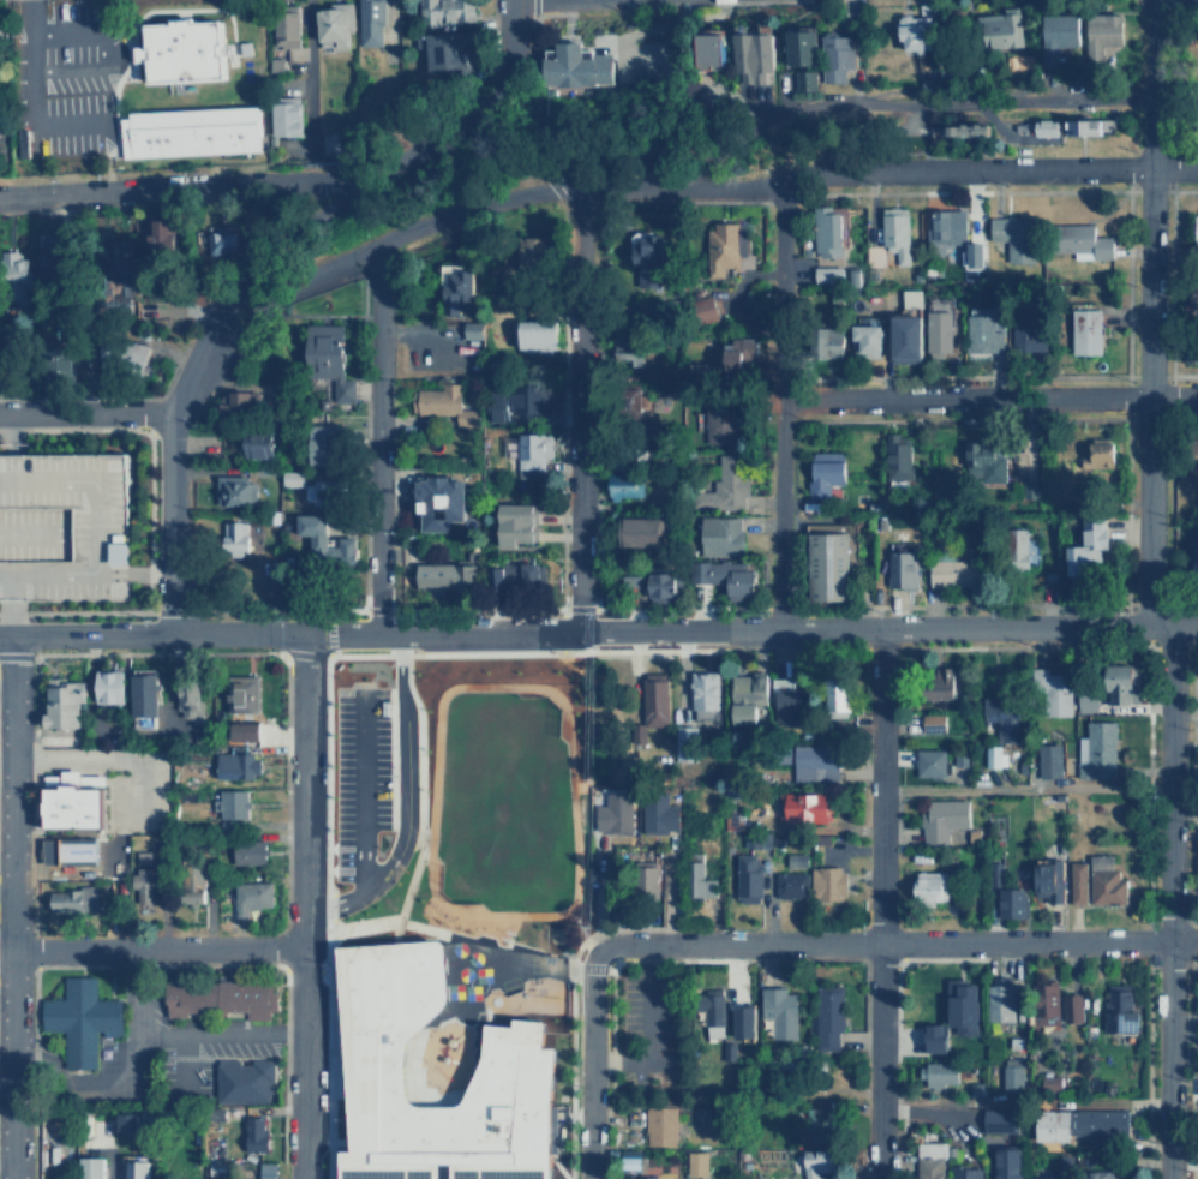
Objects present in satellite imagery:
building: (445, 11)
building: (0, 17)
building: (371, 23)
building: (336, 26)
building: (287, 28)
building: (1001, 28)
road: (64, 30)
road: (534, 31)
building: (916, 31)
building: (1101, 32)
building: (1058, 35)
building: (801, 46)
building: (713, 47)
building: (182, 49)
building: (443, 49)
building: (754, 55)
building: (837, 55)
building: (576, 66)
road: (64, 70)
building: (805, 79)
road: (976, 98)
road: (23, 101)
building: (286, 115)
building: (1085, 125)
building: (1049, 126)
building: (969, 128)
building: (192, 131)
building: (340, 143)
park: (540, 163)
road: (544, 175)
road: (173, 188)
road: (685, 188)
building: (947, 227)
building: (1196, 227)
building: (897, 231)
building: (828, 232)
building: (163, 234)
building: (1014, 235)
building: (1085, 241)
building: (223, 243)
building: (729, 247)
building: (532, 251)
building: (975, 253)
building: (54, 256)
building: (649, 261)
road: (256, 263)
building: (16, 270)
building: (827, 274)
building: (460, 292)
building: (1194, 292)
building: (911, 298)
building: (708, 307)
building: (984, 329)
building: (472, 330)
building: (1086, 330)
building: (939, 331)
building: (1028, 331)
building: (538, 335)
building: (868, 337)
building: (908, 337)
building: (832, 342)
building: (629, 349)
building: (124, 354)
building: (741, 354)
building: (329, 358)
building: (61, 365)
road: (987, 397)
building: (239, 401)
building: (521, 402)
building: (443, 403)
road: (777, 408)
road: (575, 411)
road: (84, 412)
building: (720, 420)
road: (0, 430)
road: (375, 438)
building: (321, 443)
building: (251, 444)
building: (533, 451)
building: (1100, 453)
building: (898, 456)
building: (984, 462)
building: (825, 472)
building: (292, 477)
building: (624, 486)
building: (724, 486)
building: (235, 491)
building: (323, 491)
building: (439, 501)
building: (62, 523)
parking lot: (62, 523)
building: (516, 523)
building: (641, 531)
building: (720, 535)
building: (235, 538)
building: (324, 538)
building: (1090, 545)
building: (1023, 547)
building: (1194, 556)
building: (829, 565)
building: (903, 569)
building: (534, 571)
building: (956, 571)
road: (146, 573)
building: (447, 575)
building: (507, 575)
building: (726, 576)
building: (634, 580)
building: (663, 585)
road: (1145, 592)
road: (8, 617)
road: (599, 633)
building: (946, 683)
building: (1122, 683)
building: (104, 689)
building: (1053, 690)
building: (837, 693)
building: (703, 694)
building: (747, 695)
building: (238, 696)
building: (139, 698)
building: (655, 698)
building: (1086, 701)
building: (59, 704)
building: (787, 706)
building: (186, 713)
building: (1002, 718)
building: (934, 722)
building: (245, 731)
building: (683, 746)
building: (1097, 749)
building: (995, 755)
building: (1049, 760)
building: (814, 762)
building: (932, 762)
building: (234, 766)
road: (403, 771)
road: (1023, 786)
road: (360, 790)
building: (77, 801)
park: (502, 801)
building: (808, 806)
building: (229, 810)
building: (617, 812)
building: (659, 815)
building: (944, 819)
building: (757, 840)
building: (83, 850)
building: (244, 852)
building: (144, 856)
building: (797, 858)
building: (996, 873)
building: (749, 876)
building: (646, 879)
building: (1049, 880)
building: (1106, 880)
building: (700, 881)
building: (827, 882)
building: (1078, 882)
building: (791, 884)
building: (933, 886)
building: (138, 888)
building: (187, 894)
road: (5, 897)
building: (245, 898)
building: (72, 899)
building: (1013, 902)
road: (879, 903)
road: (333, 905)
road: (301, 906)
road: (11, 908)
road: (897, 941)
road: (150, 946)
building: (216, 1000)
building: (1002, 1000)
building: (1047, 1003)
building: (965, 1007)
building: (1073, 1007)
building: (1120, 1010)
building: (713, 1011)
building: (779, 1011)
building: (828, 1016)
building: (730, 1017)
building: (77, 1019)
building: (745, 1021)
road: (169, 1035)
building: (938, 1037)
building: (729, 1051)
building: (522, 1061)
road: (588, 1063)
building: (1012, 1072)
building: (940, 1076)
building: (241, 1081)
building: (1052, 1082)
road: (82, 1085)
building: (819, 1119)
building: (999, 1119)
building: (128, 1121)
building: (1080, 1123)
building: (661, 1125)
building: (252, 1133)
building: (631, 1159)
building: (929, 1160)
building: (817, 1161)
building: (697, 1163)
building: (1010, 1163)
building: (88, 1168)
building: (131, 1169)
building: (215, 1169)
building: (965, 1172)
building: (1097, 1174)
building: (647, 1177)
building: (1048, 1178)

